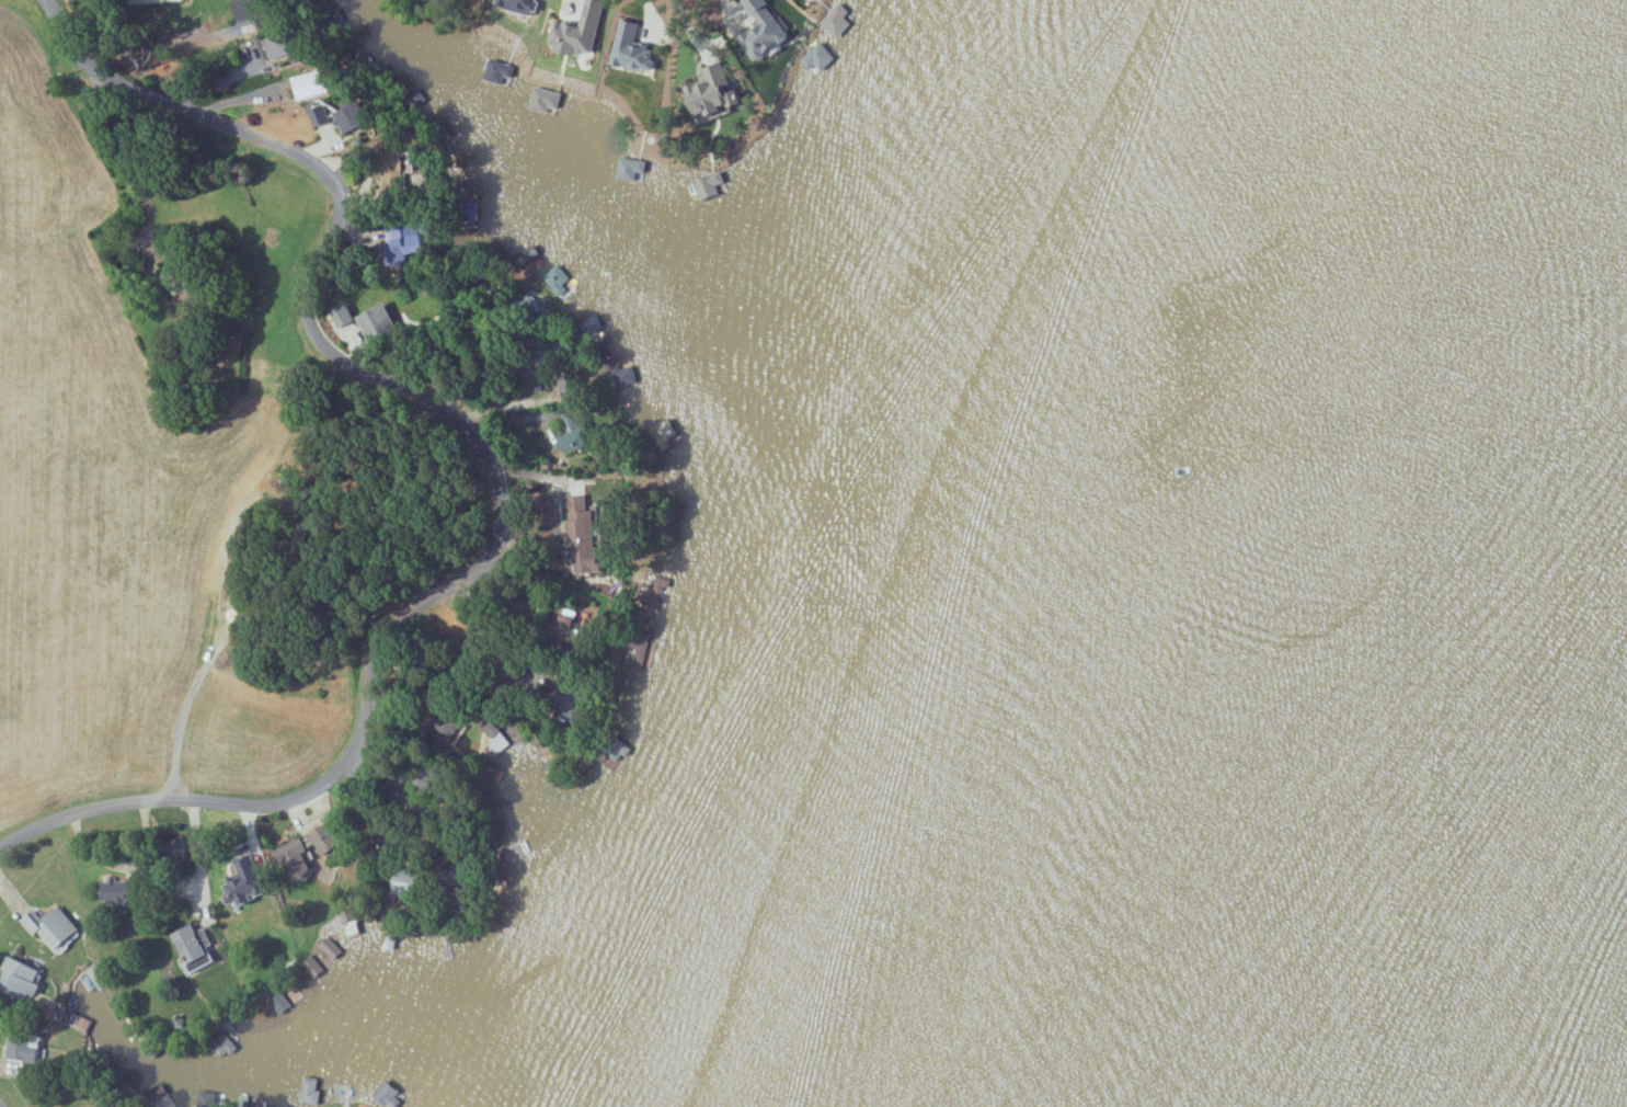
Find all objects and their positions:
building: (519, 5)
road: (651, 14)
building: (837, 21)
building: (577, 28)
building: (279, 46)
building: (632, 48)
building: (818, 57)
building: (500, 72)
building: (310, 84)
building: (711, 93)
building: (321, 111)
building: (351, 117)
building: (630, 169)
building: (401, 174)
building: (710, 185)
building: (402, 242)
building: (173, 279)
building: (341, 315)
building: (376, 320)
building: (568, 383)
building: (573, 434)
road: (486, 461)
building: (582, 535)
river: (1555, 678)
building: (618, 747)
building: (326, 837)
building: (289, 855)
building: (186, 856)
building: (243, 881)
building: (405, 885)
building: (122, 890)
building: (350, 920)
building: (51, 926)
building: (193, 946)
building: (18, 978)
building: (224, 1045)
building: (23, 1046)
building: (310, 1089)
building: (388, 1093)

